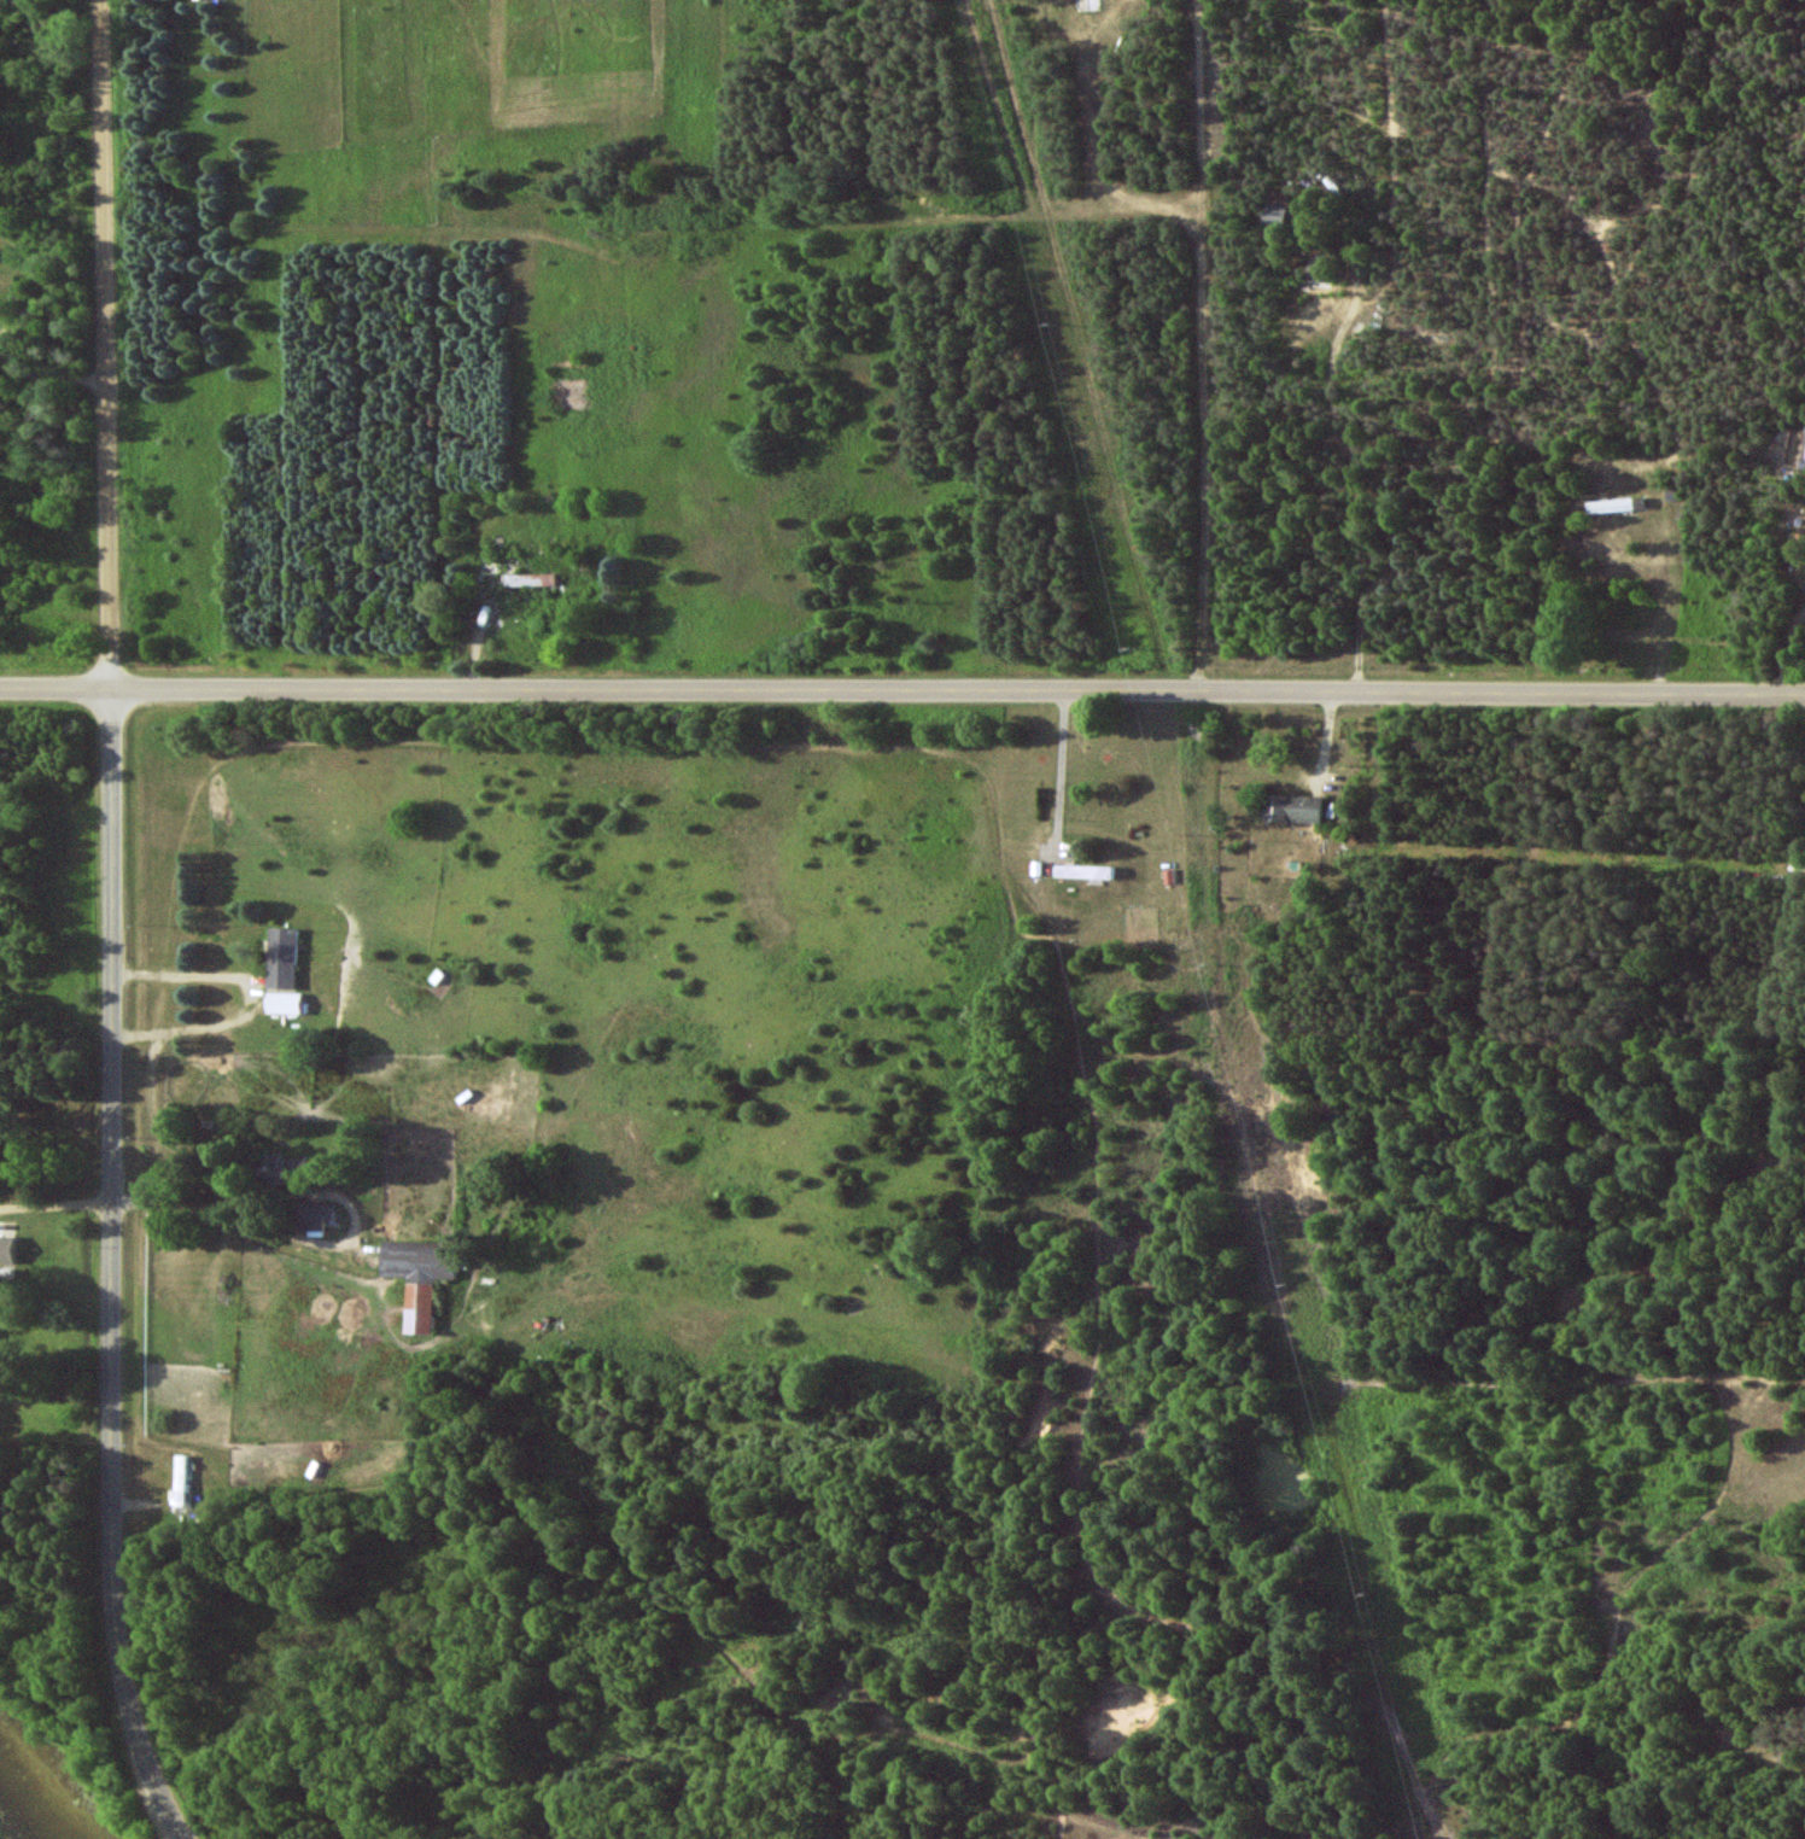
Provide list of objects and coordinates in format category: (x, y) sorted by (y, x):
building: (1087, 5)
building: (1275, 209)
building: (1315, 272)
road: (48, 370)
building: (1803, 455)
building: (1610, 506)
building: (528, 579)
road: (902, 691)
road: (1065, 766)
building: (1291, 807)
building: (1083, 871)
road: (109, 926)
building: (282, 959)
road: (256, 993)
building: (284, 1003)
road: (53, 1096)
building: (281, 1168)
building: (314, 1215)
building: (7, 1249)
building: (416, 1277)
road: (53, 1279)
building: (180, 1481)

